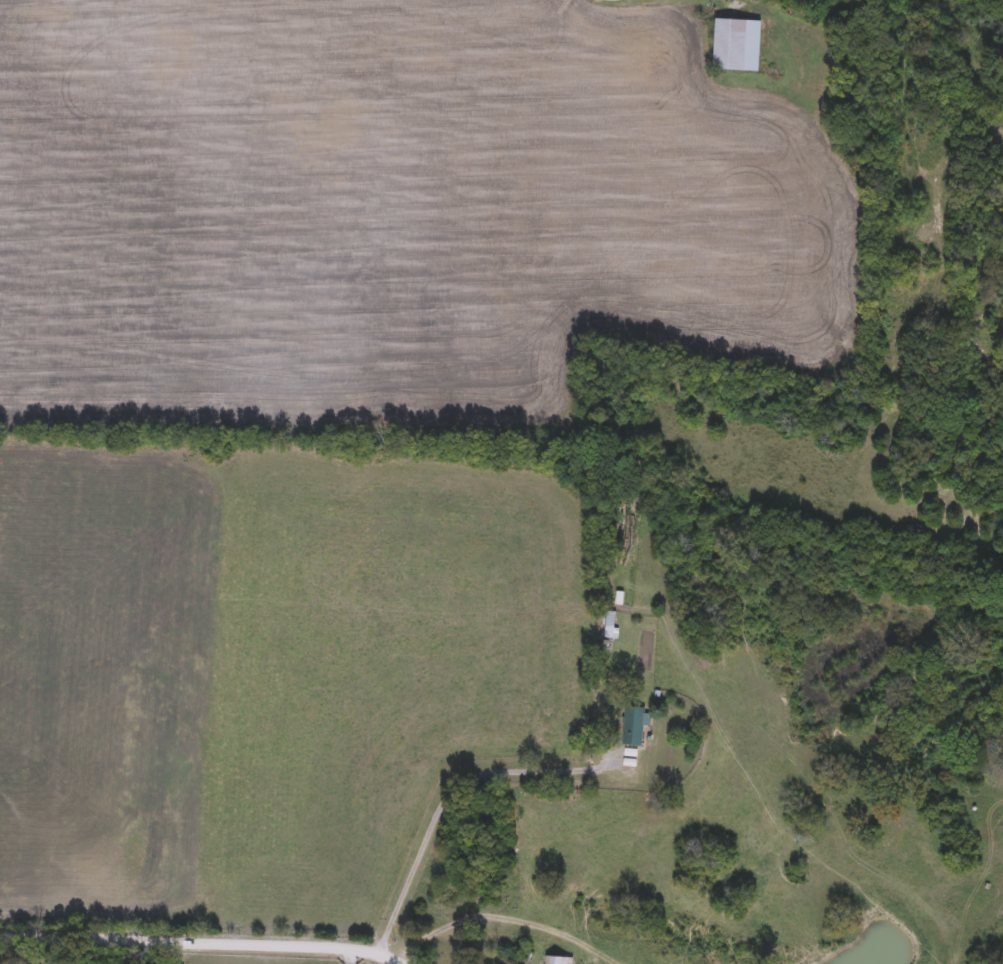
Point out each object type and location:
road: (736, 3)
building: (737, 45)
building: (633, 726)
road: (451, 794)
road: (491, 915)
road: (203, 942)
road: (351, 956)
building: (558, 961)

